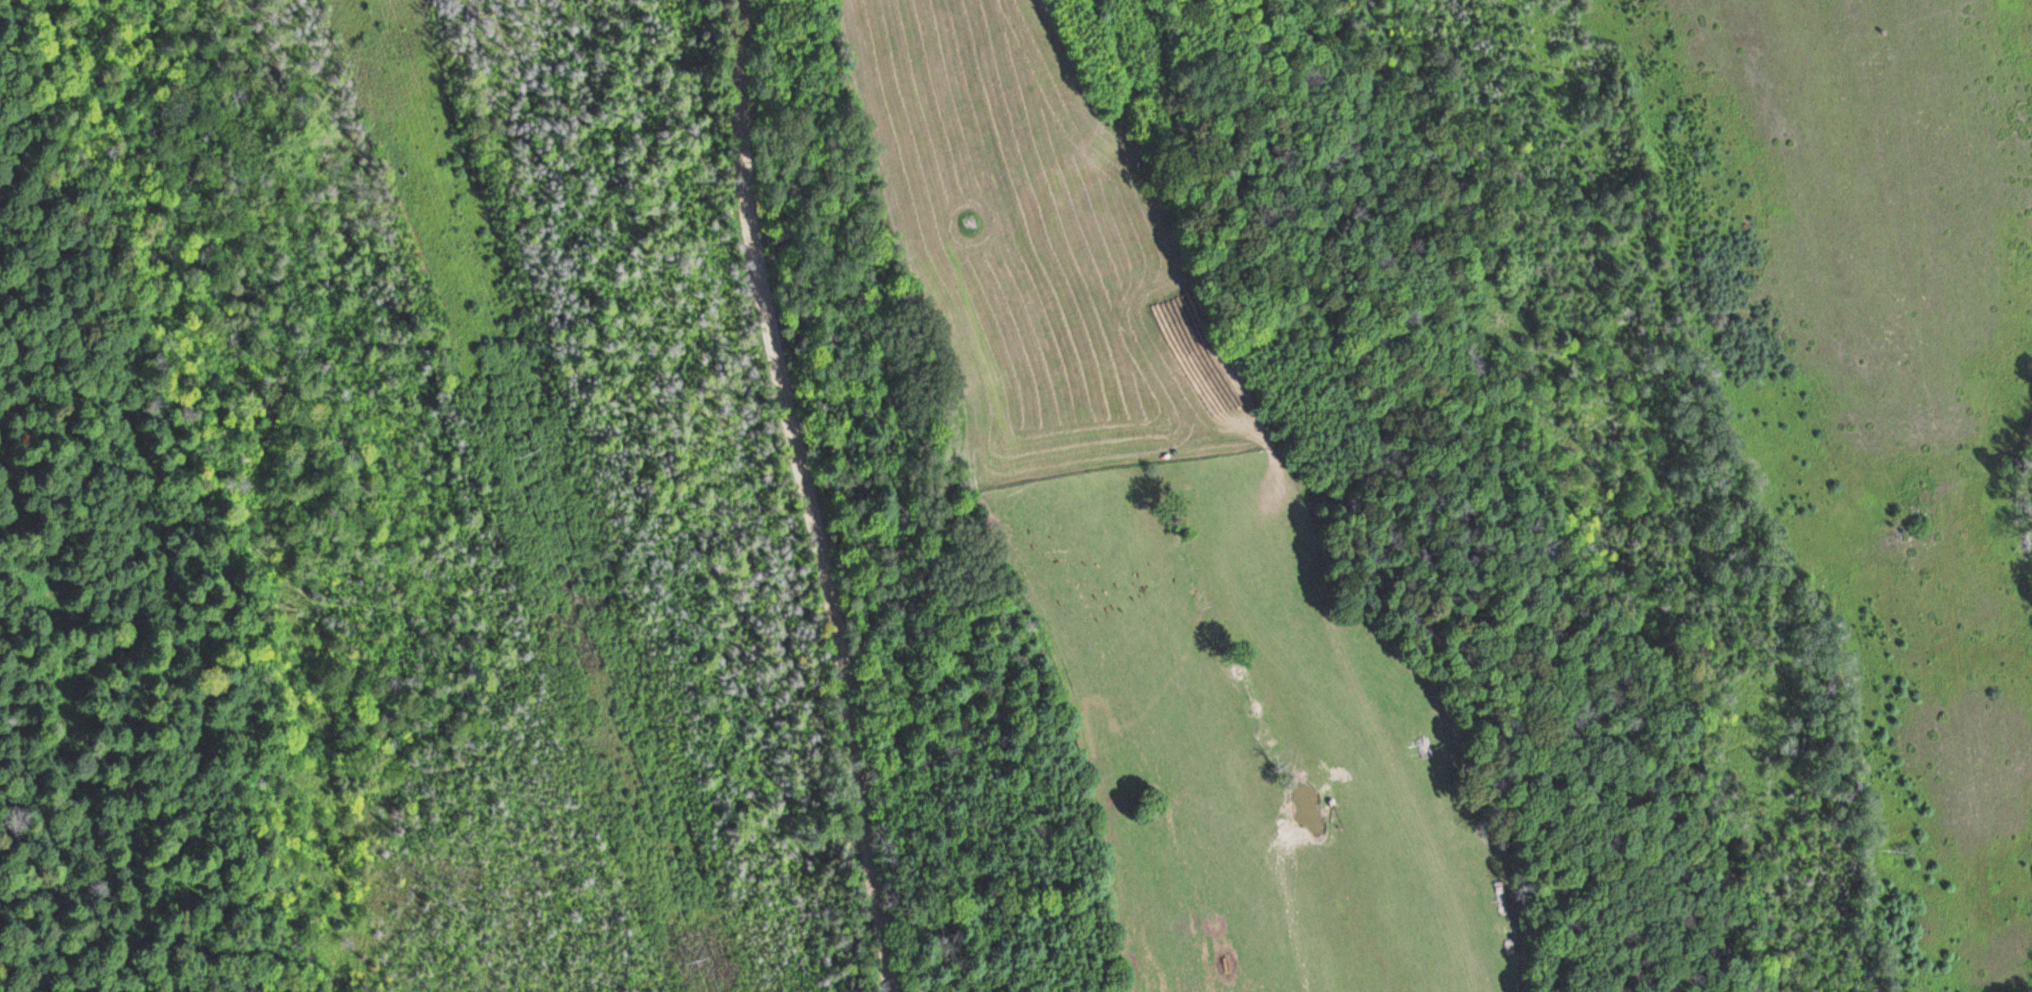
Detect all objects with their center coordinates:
road: (812, 495)

